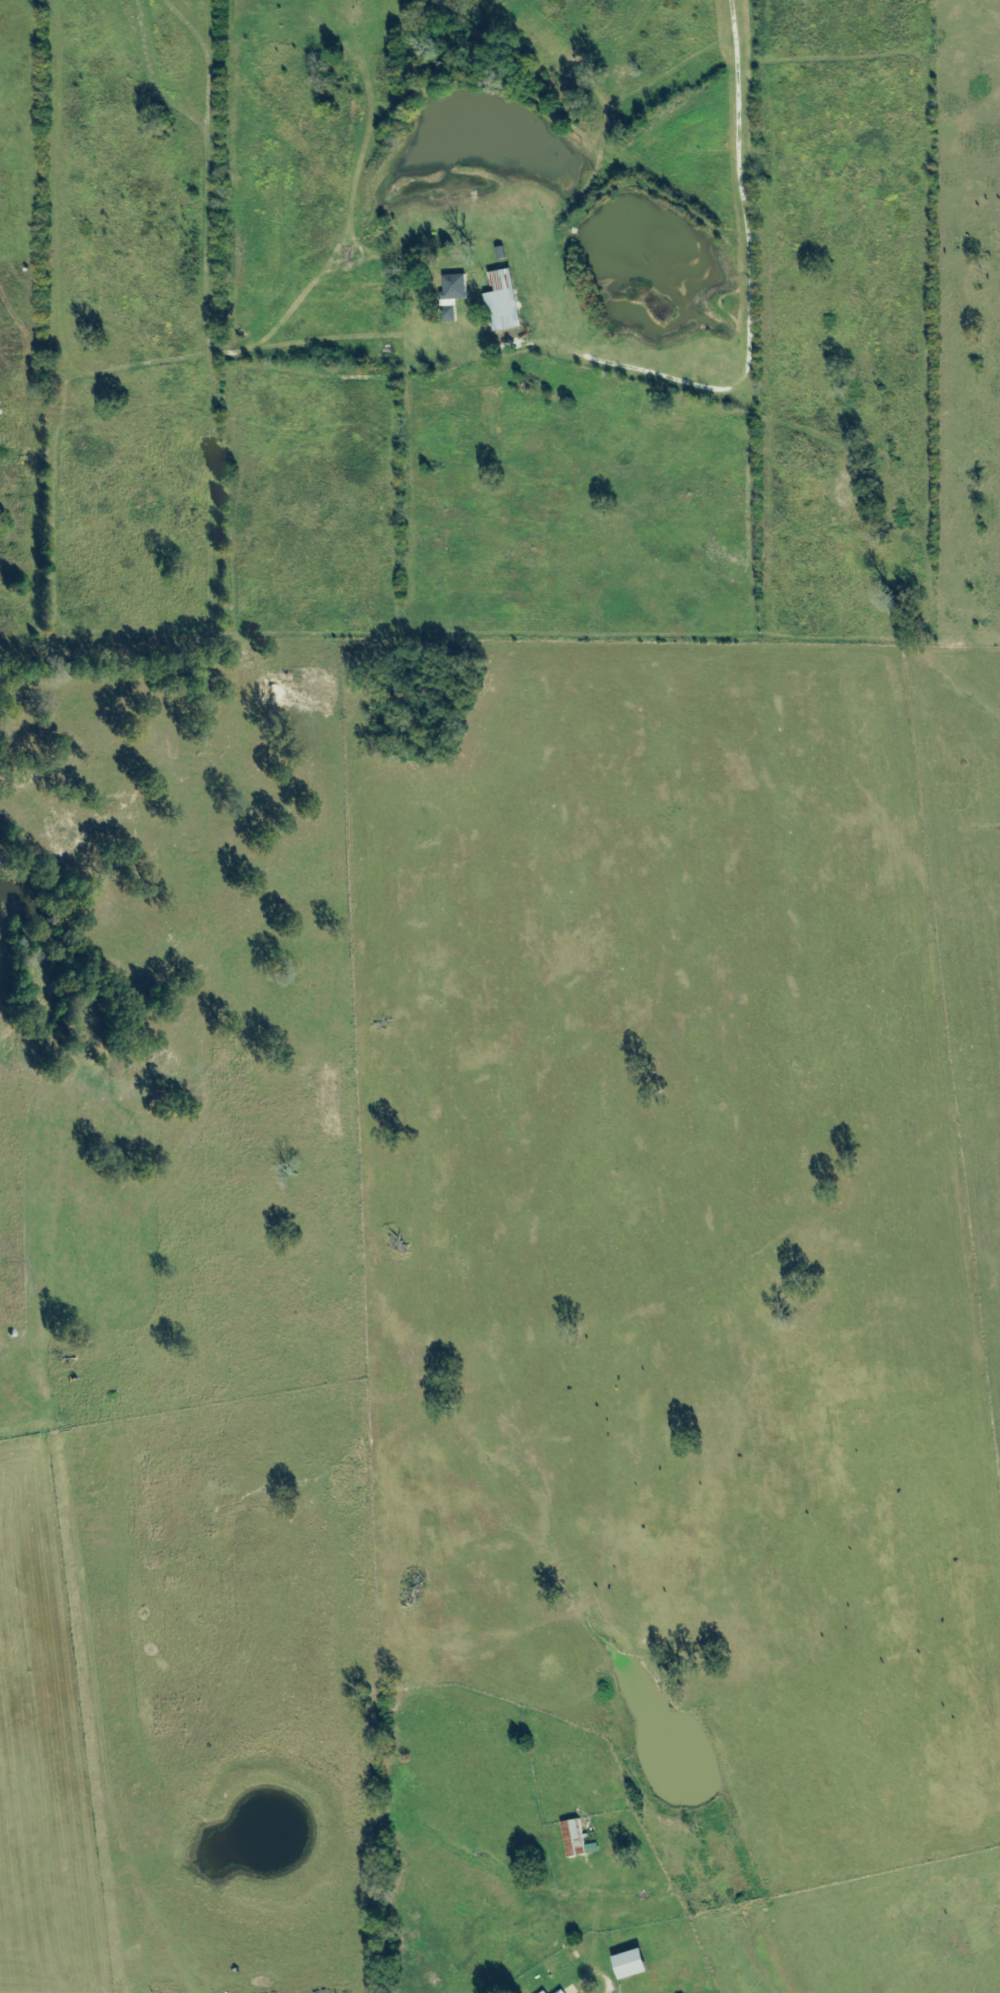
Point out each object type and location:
building: (452, 293)
building: (502, 304)
building: (576, 1836)
building: (636, 1959)
road: (610, 1989)
building: (564, 1990)
building: (546, 1991)

